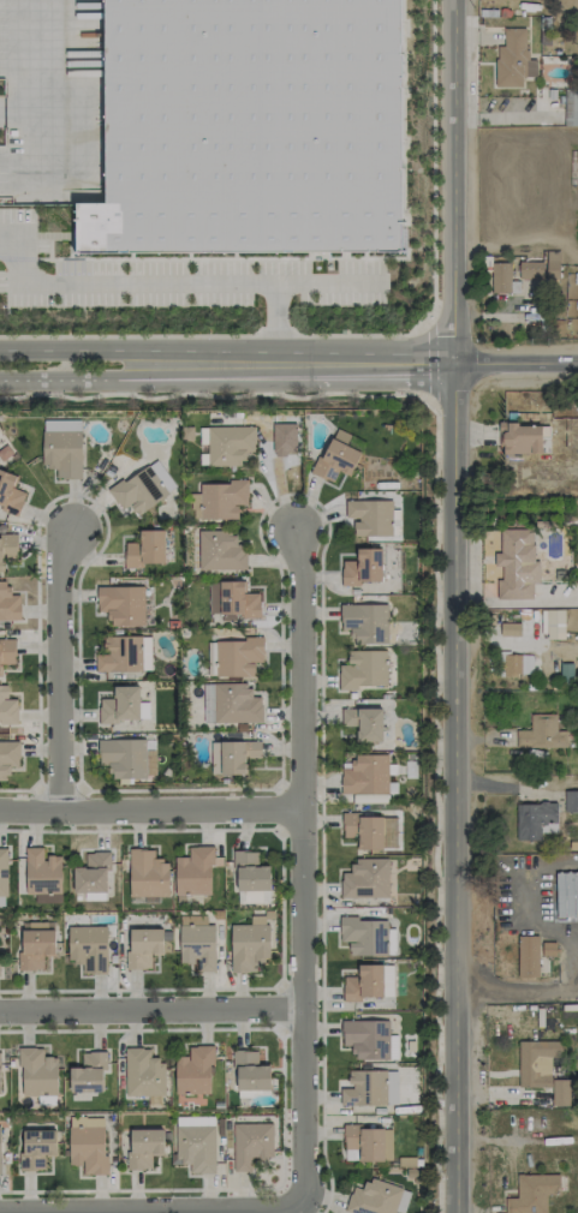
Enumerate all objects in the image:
building: (577, 38)
building: (513, 60)
road: (23, 66)
building: (571, 108)
building: (250, 127)
building: (530, 270)
building: (500, 277)
road: (171, 287)
road: (275, 318)
road: (228, 349)
road: (428, 361)
road: (517, 364)
road: (228, 376)
building: (519, 438)
building: (228, 446)
building: (61, 447)
building: (335, 458)
building: (142, 488)
building: (10, 495)
building: (218, 501)
building: (369, 518)
building: (7, 548)
building: (145, 549)
building: (220, 551)
building: (514, 564)
building: (363, 568)
building: (233, 599)
building: (8, 604)
building: (121, 604)
road: (454, 606)
building: (365, 623)
building: (554, 625)
building: (510, 629)
road: (505, 641)
building: (6, 653)
building: (120, 653)
building: (237, 657)
road: (58, 663)
building: (517, 664)
building: (363, 669)
building: (231, 704)
building: (119, 705)
building: (7, 706)
building: (364, 723)
building: (541, 733)
building: (237, 755)
building: (7, 758)
building: (365, 776)
road: (502, 788)
building: (571, 801)
road: (147, 807)
building: (535, 820)
building: (370, 831)
road: (294, 855)
building: (4, 872)
building: (193, 872)
building: (250, 872)
building: (91, 873)
building: (147, 874)
building: (42, 876)
building: (365, 879)
building: (566, 894)
building: (254, 897)
building: (364, 936)
building: (249, 944)
building: (35, 945)
building: (197, 945)
building: (88, 948)
building: (143, 948)
building: (528, 956)
building: (369, 982)
road: (516, 988)
road: (148, 1012)
building: (367, 1039)
building: (393, 1047)
building: (536, 1063)
building: (193, 1071)
building: (250, 1071)
building: (37, 1072)
building: (143, 1072)
building: (88, 1074)
building: (0, 1090)
building: (560, 1093)
building: (195, 1121)
building: (369, 1142)
building: (251, 1145)
building: (36, 1148)
building: (87, 1148)
building: (143, 1148)
building: (195, 1148)
building: (0, 1166)
building: (532, 1193)
building: (373, 1197)
road: (148, 1202)

